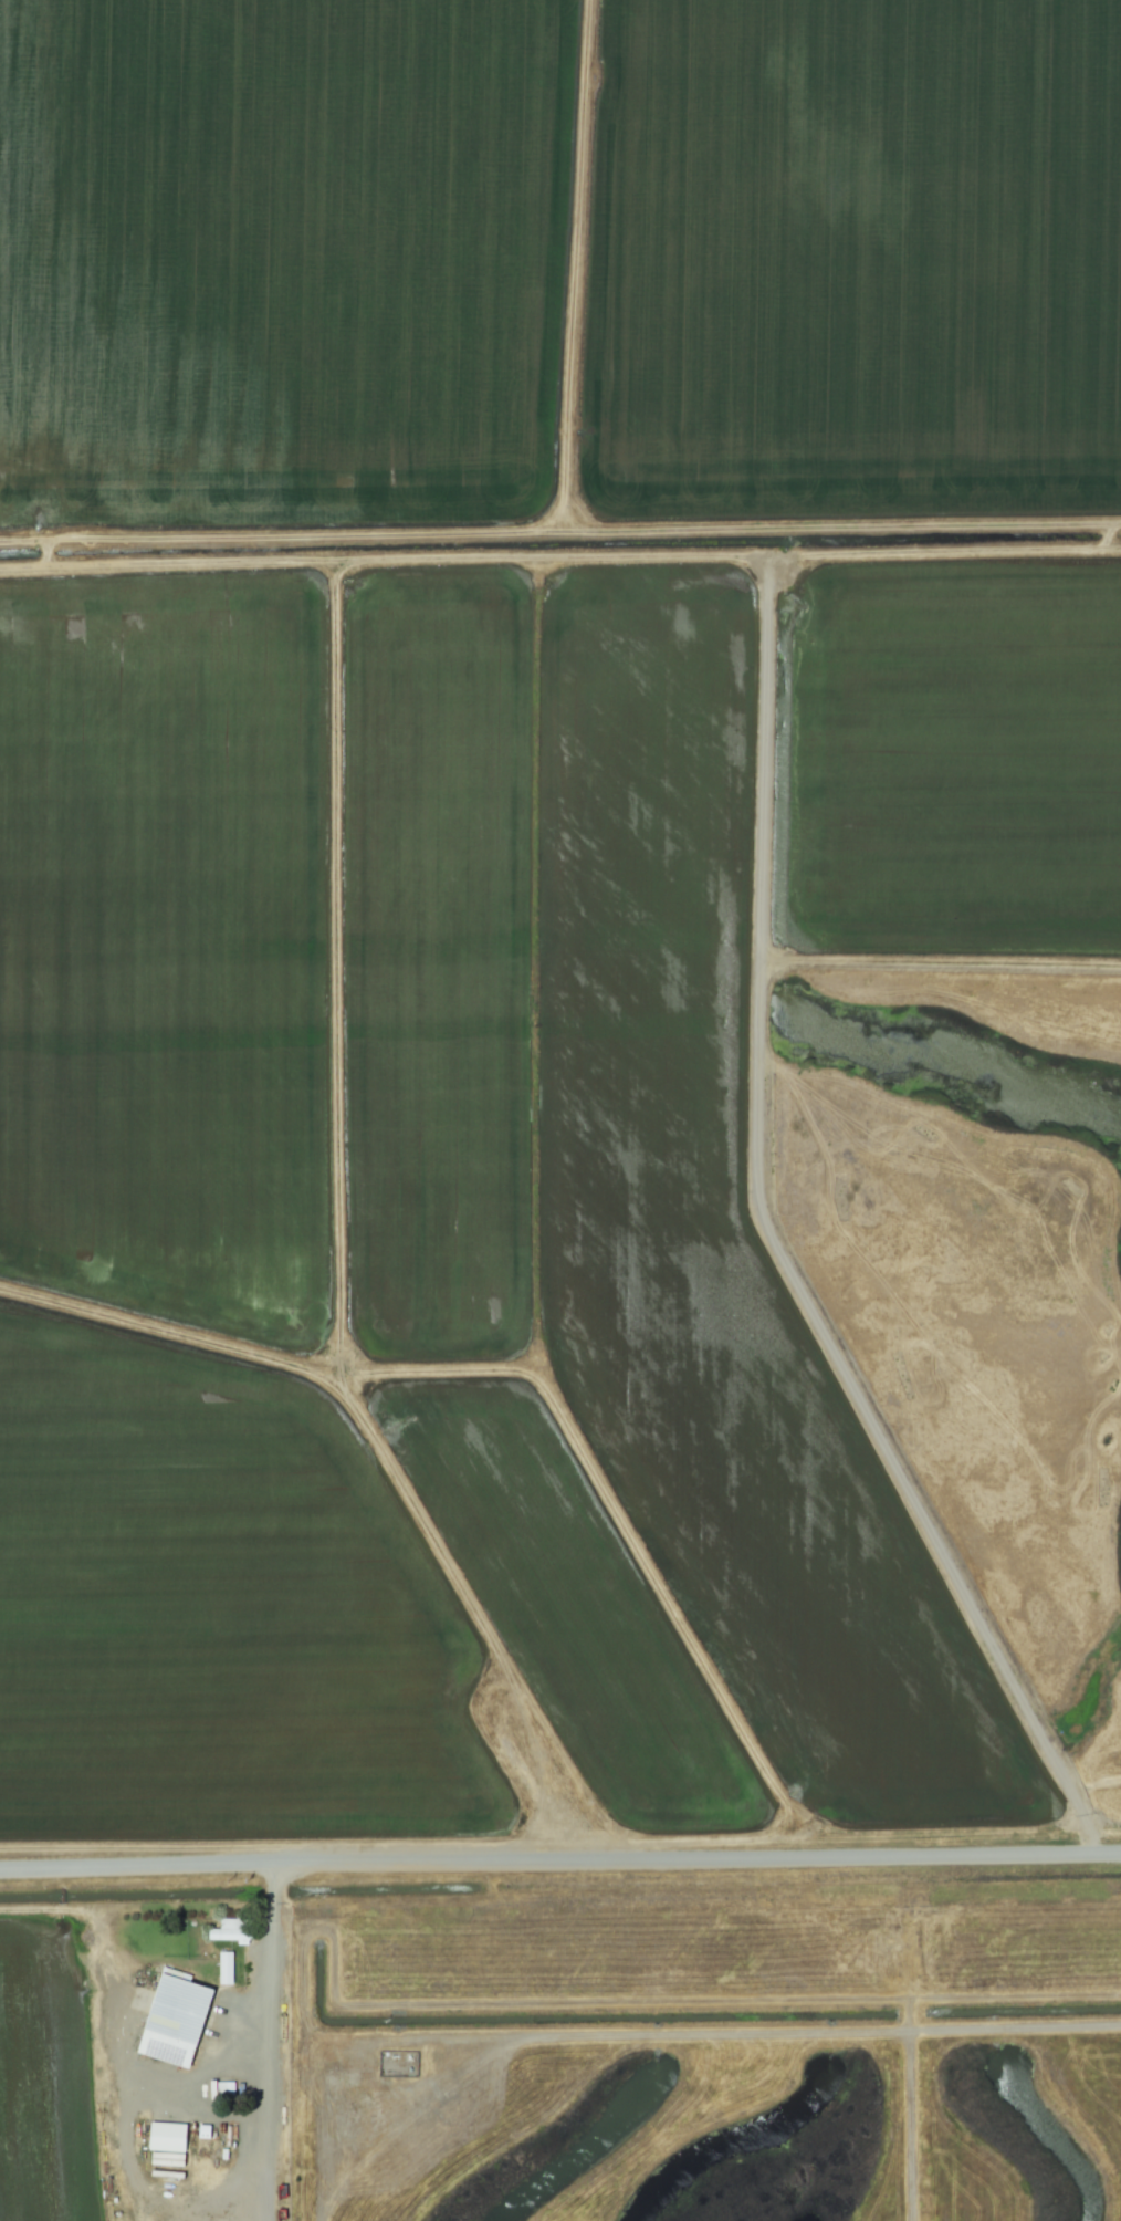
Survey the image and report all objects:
road: (559, 1865)
building: (231, 1930)
building: (224, 1967)
road: (265, 2005)
building: (176, 2019)
road: (772, 2032)
building: (167, 2142)

